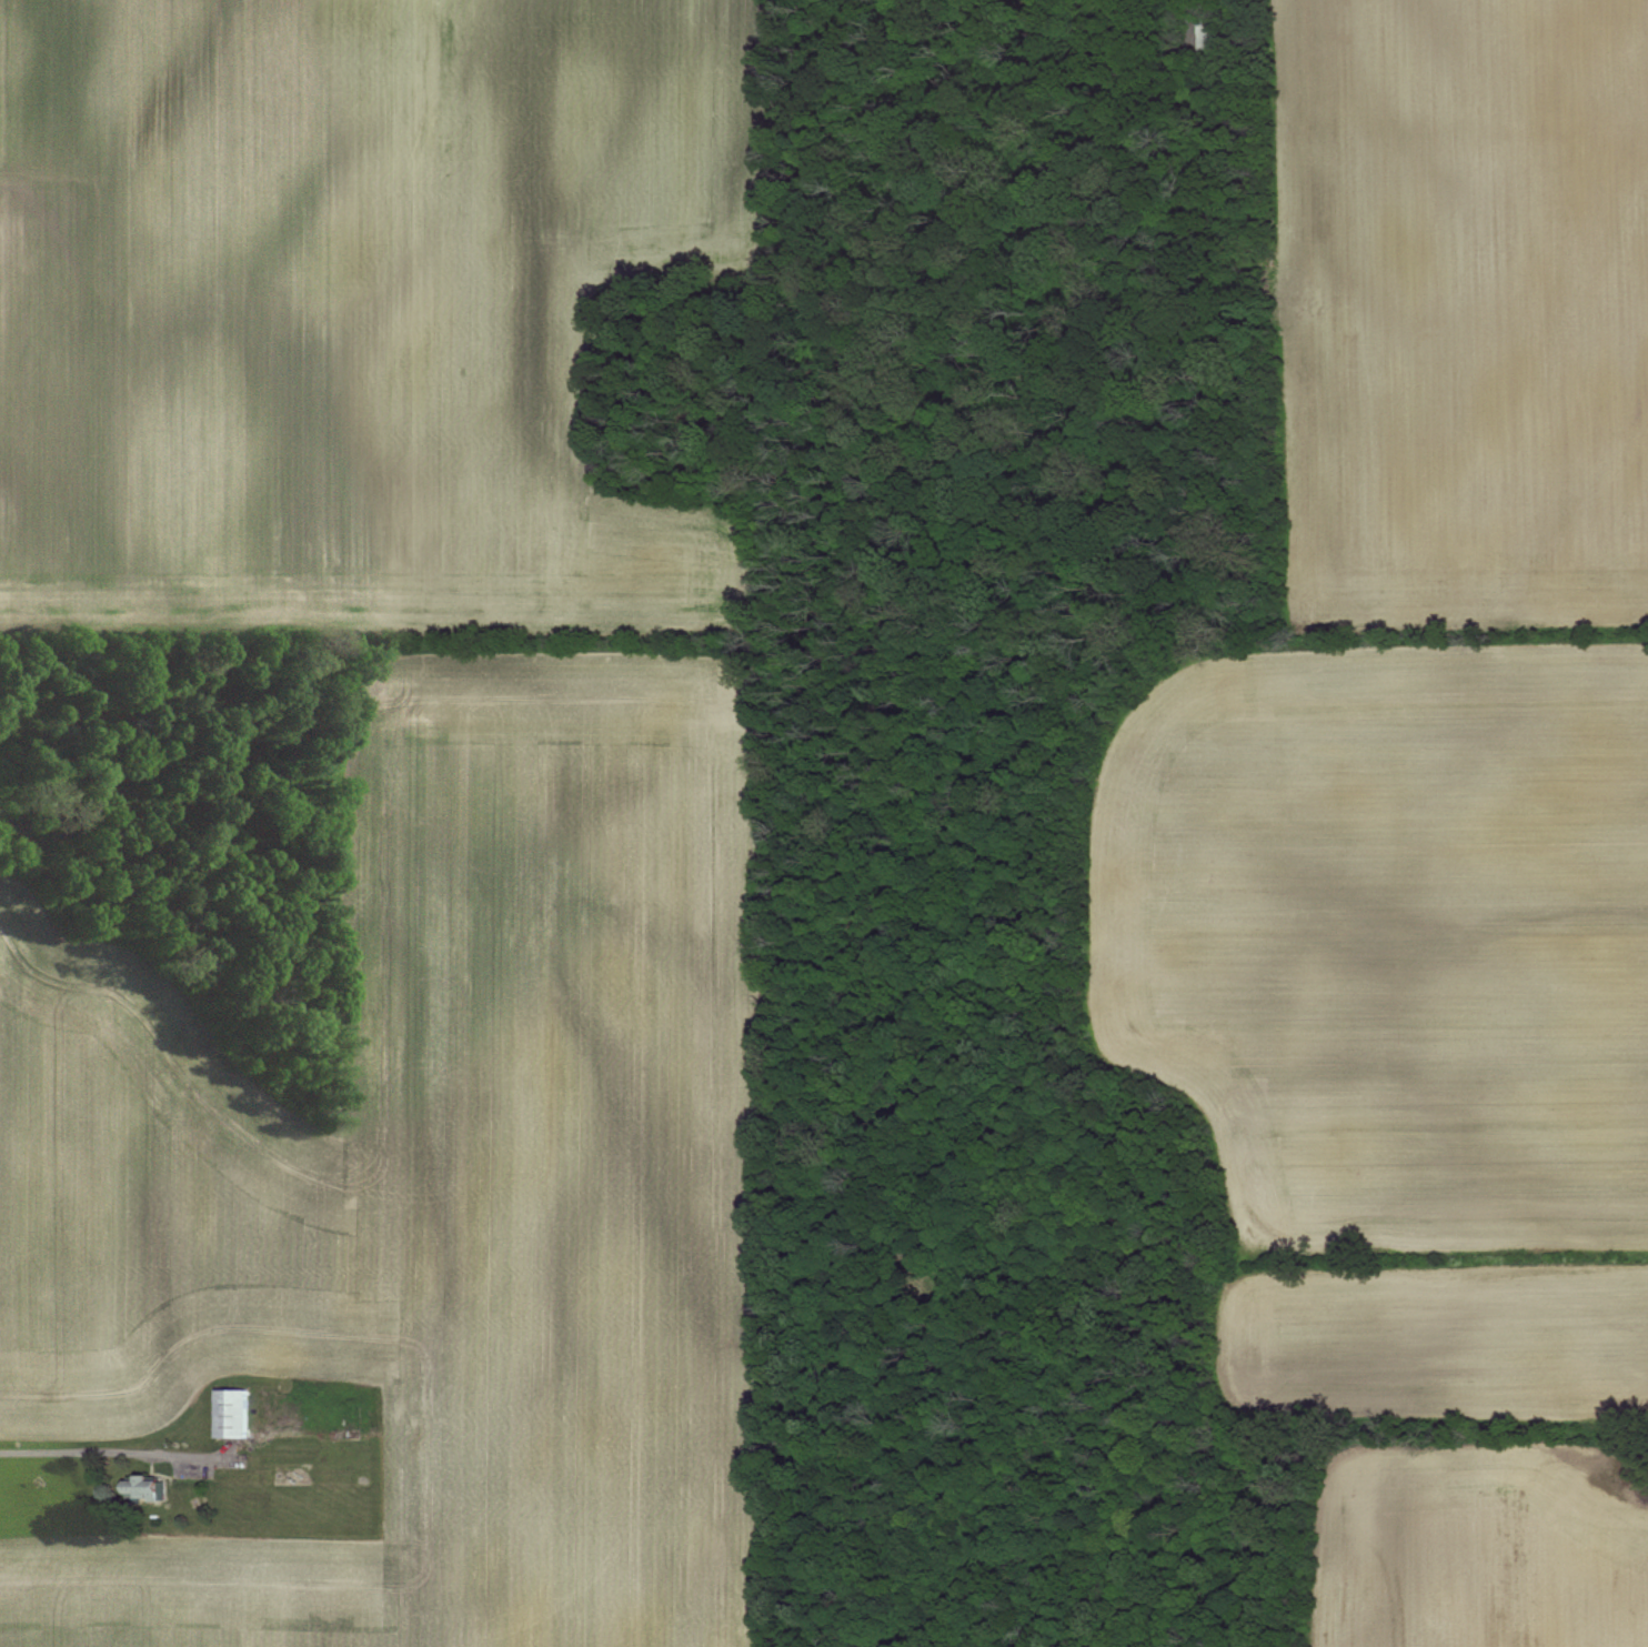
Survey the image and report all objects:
road: (1438, 117)
building: (235, 1413)
road: (114, 1453)

